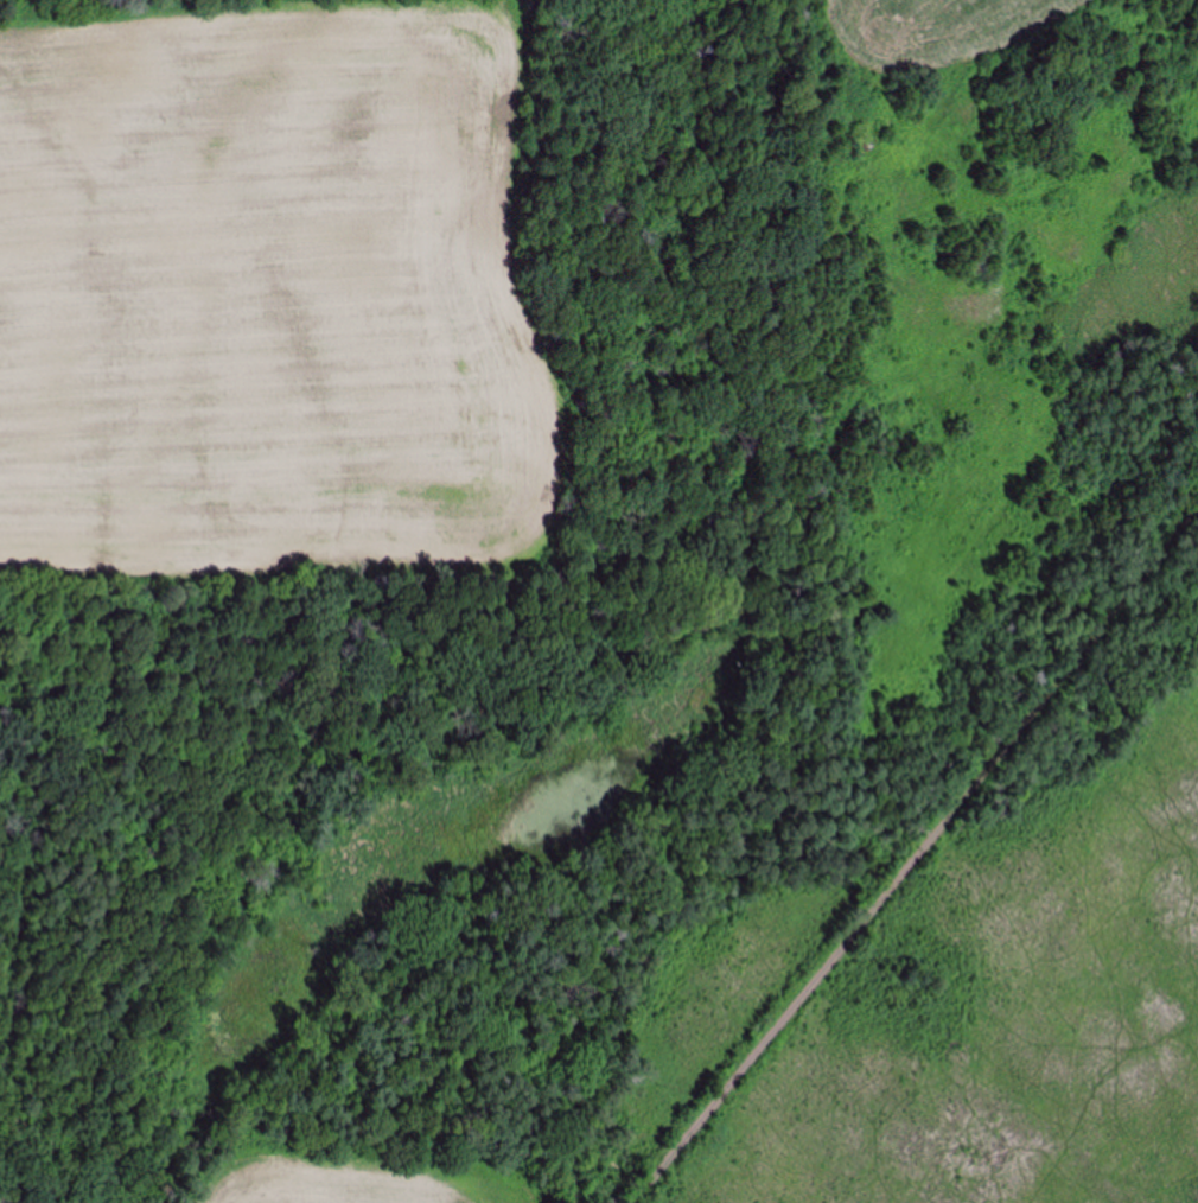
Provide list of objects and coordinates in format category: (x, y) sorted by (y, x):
road: (917, 857)

